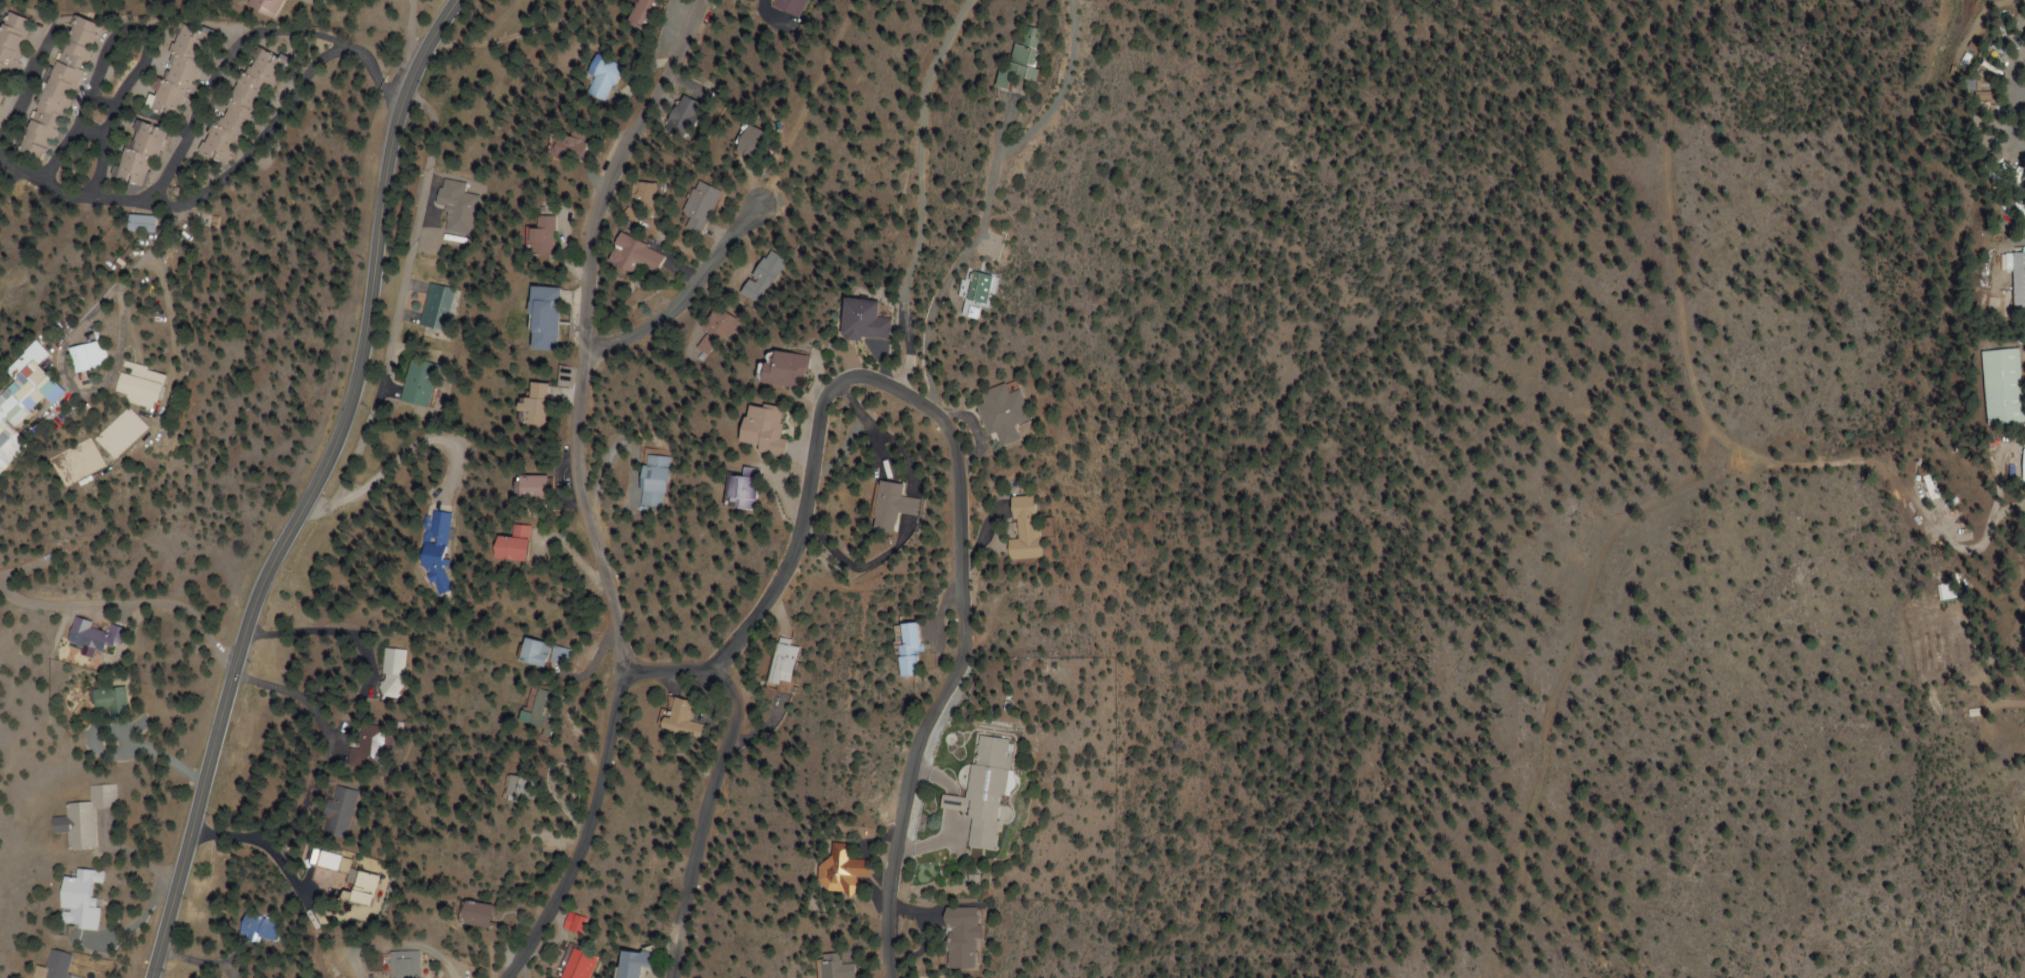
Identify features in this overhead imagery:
building: (261, 6)
building: (795, 7)
building: (641, 14)
road: (133, 31)
building: (11, 38)
building: (1027, 58)
building: (177, 69)
building: (603, 79)
building: (55, 87)
building: (235, 104)
road: (192, 119)
building: (747, 141)
building: (564, 146)
building: (136, 154)
road: (10, 189)
building: (638, 190)
road: (935, 193)
road: (83, 195)
road: (996, 200)
building: (695, 207)
building: (455, 210)
road: (167, 219)
building: (535, 234)
building: (628, 254)
building: (766, 276)
building: (2016, 280)
building: (976, 286)
road: (684, 298)
building: (435, 306)
building: (537, 317)
building: (860, 320)
building: (716, 332)
building: (87, 354)
building: (777, 369)
road: (860, 376)
building: (416, 382)
building: (132, 384)
building: (1999, 386)
building: (24, 399)
building: (532, 402)
building: (999, 411)
building: (756, 428)
building: (114, 431)
building: (2021, 461)
building: (523, 485)
building: (646, 485)
road: (306, 488)
building: (735, 488)
road: (577, 489)
building: (892, 506)
building: (1022, 529)
building: (503, 544)
building: (433, 546)
road: (28, 565)
building: (1942, 592)
road: (126, 603)
building: (87, 635)
building: (907, 649)
building: (537, 653)
building: (784, 664)
road: (671, 670)
building: (389, 672)
building: (102, 698)
building: (531, 709)
building: (680, 720)
building: (365, 750)
building: (978, 790)
building: (338, 811)
building: (81, 817)
building: (2023, 825)
building: (328, 862)
building: (840, 871)
building: (357, 888)
building: (73, 899)
building: (471, 914)
building: (578, 923)
building: (253, 927)
building: (954, 938)
building: (630, 963)
building: (403, 964)
building: (580, 964)
building: (48, 966)
building: (829, 967)
building: (232, 969)

